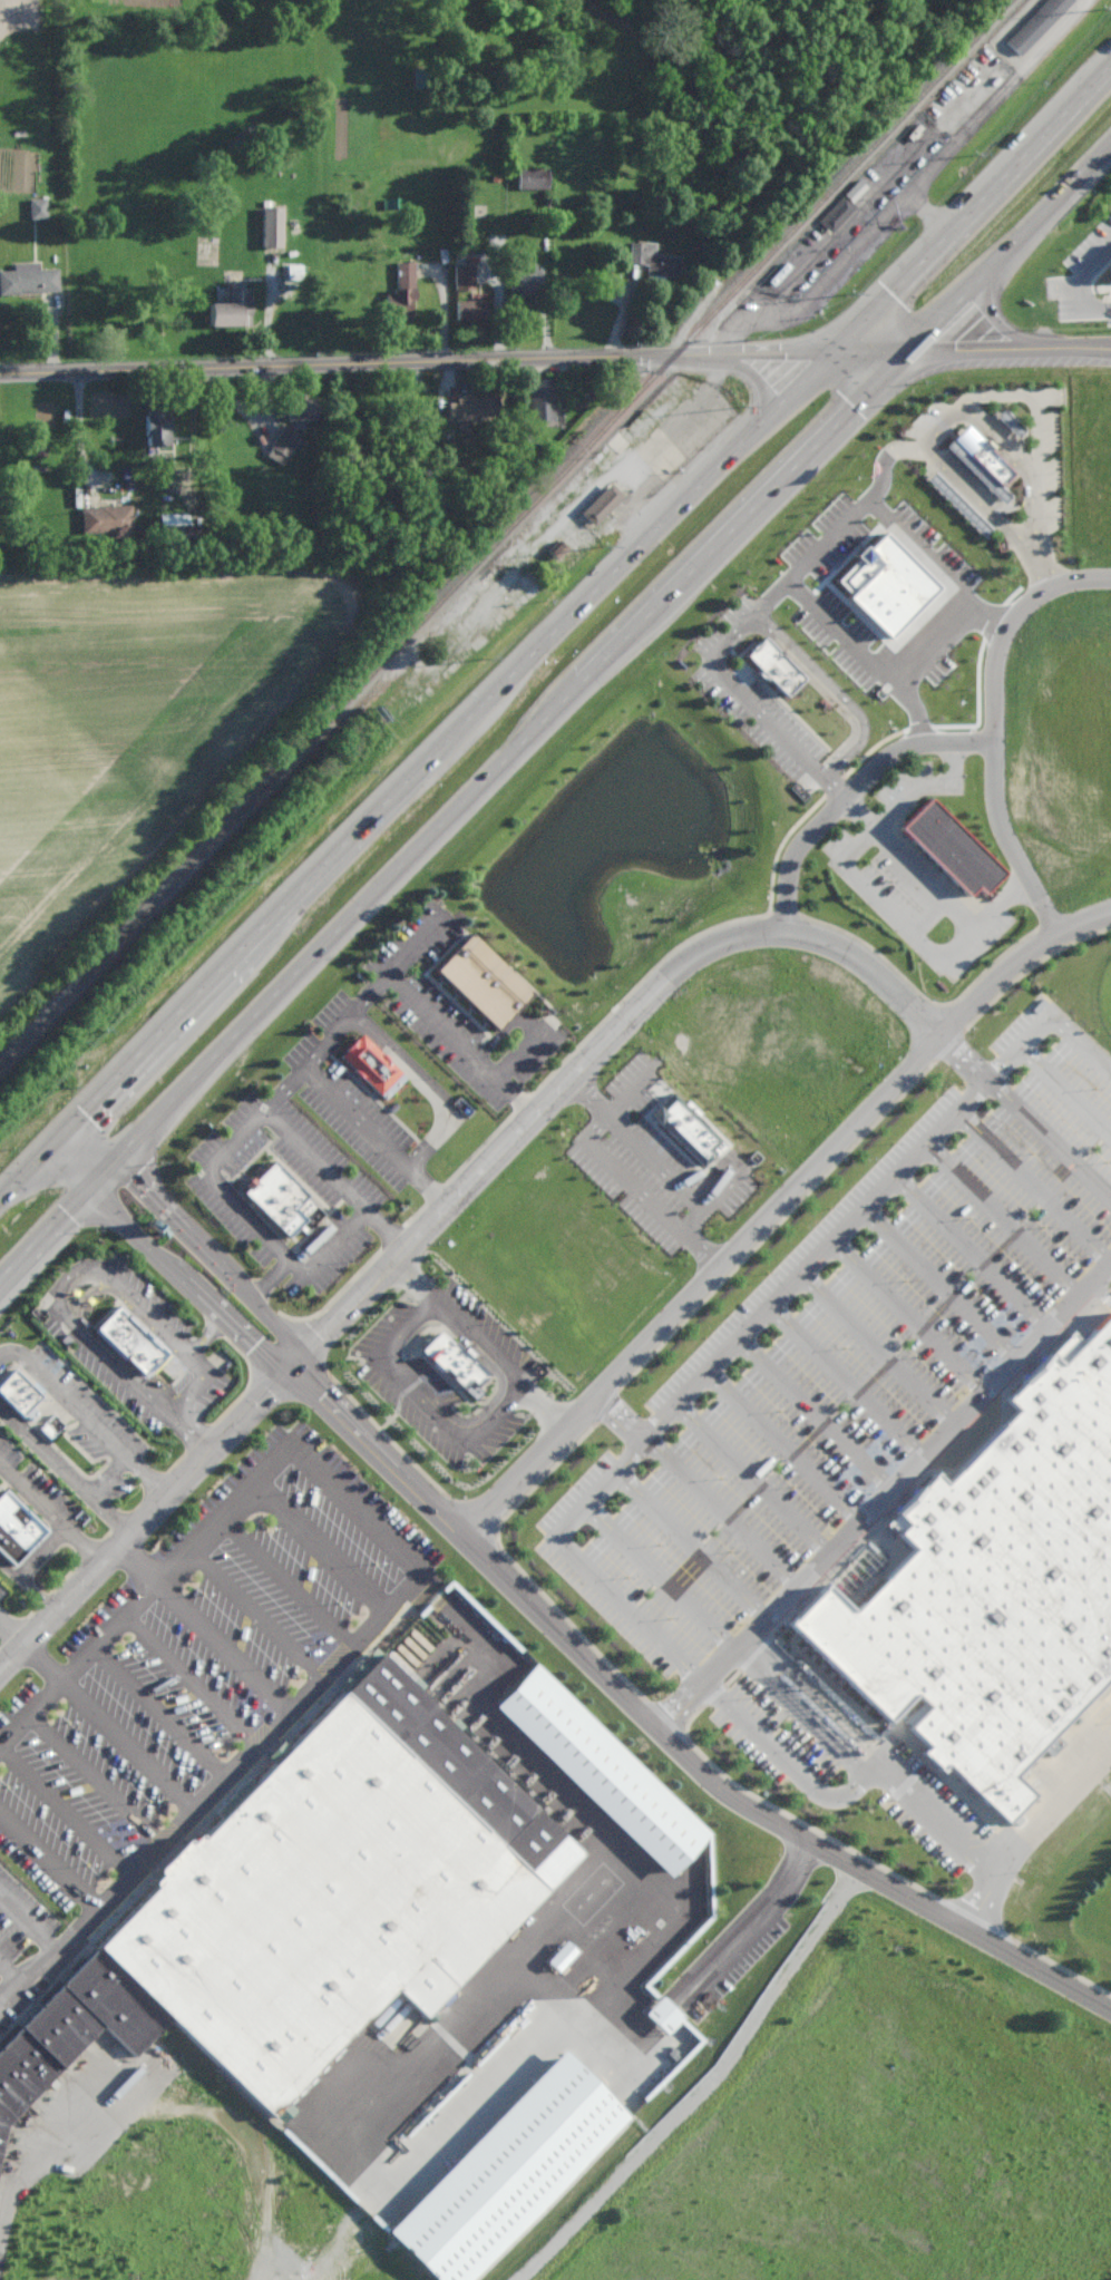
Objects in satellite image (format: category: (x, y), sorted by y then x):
building: (1035, 25)
building: (533, 178)
building: (38, 208)
building: (836, 214)
road: (927, 214)
building: (272, 226)
road: (873, 230)
building: (654, 260)
building: (1110, 266)
building: (465, 276)
building: (29, 279)
building: (526, 279)
road: (1085, 282)
building: (402, 293)
building: (233, 306)
building: (471, 309)
road: (992, 310)
road: (973, 349)
traffic signals: (835, 350)
traffic signals: (908, 351)
road: (417, 361)
road: (758, 379)
building: (542, 401)
building: (301, 408)
building: (472, 408)
building: (1011, 422)
building: (156, 427)
road: (77, 429)
building: (284, 445)
road: (889, 456)
building: (982, 461)
road: (1025, 464)
road: (954, 479)
building: (952, 498)
building: (602, 504)
building: (172, 518)
building: (106, 519)
railway: (507, 530)
road: (925, 547)
road: (811, 552)
road: (1041, 564)
road: (949, 627)
road: (554, 632)
road: (867, 650)
building: (774, 666)
road: (836, 689)
road: (754, 704)
road: (553, 710)
road: (1001, 723)
road: (856, 787)
building: (958, 845)
road: (846, 865)
road: (939, 885)
road: (877, 965)
building: (484, 981)
road: (420, 1004)
road: (329, 1039)
building: (373, 1066)
road: (503, 1068)
road: (426, 1081)
road: (1064, 1090)
traffic signals: (89, 1107)
road: (1024, 1115)
building: (690, 1131)
road: (376, 1134)
road: (222, 1151)
traffic signals: (136, 1172)
road: (625, 1179)
road: (1033, 1186)
building: (280, 1198)
traffic signals: (70, 1206)
road: (774, 1206)
road: (1002, 1218)
road: (192, 1234)
road: (969, 1253)
road: (165, 1261)
road: (82, 1265)
road: (382, 1270)
road: (267, 1278)
road: (416, 1278)
road: (941, 1283)
road: (908, 1316)
road: (754, 1319)
road: (205, 1332)
building: (127, 1339)
road: (479, 1343)
road: (877, 1350)
traffic signals: (294, 1363)
building: (456, 1364)
road: (846, 1381)
building: (19, 1395)
road: (425, 1397)
road: (544, 1407)
road: (86, 1414)
road: (815, 1414)
road: (191, 1429)
road: (783, 1446)
road: (65, 1469)
road: (752, 1479)
road: (696, 1491)
road: (885, 1497)
road: (49, 1513)
building: (16, 1529)
road: (689, 1545)
road: (33, 1558)
road: (416, 1576)
road: (656, 1576)
building: (995, 1585)
road: (202, 1628)
road: (12, 1629)
road: (798, 1712)
road: (106, 1726)
road: (664, 1735)
building: (1053, 1745)
building: (602, 1769)
road: (95, 1776)
road: (847, 1790)
road: (1063, 1791)
road: (65, 1811)
road: (48, 1861)
road: (993, 1884)
building: (319, 1893)
road: (759, 1920)
road: (27, 1925)
road: (9, 1975)
building: (663, 2015)
building: (40, 2048)
building: (509, 2171)
road: (19, 2182)
road: (273, 2183)

